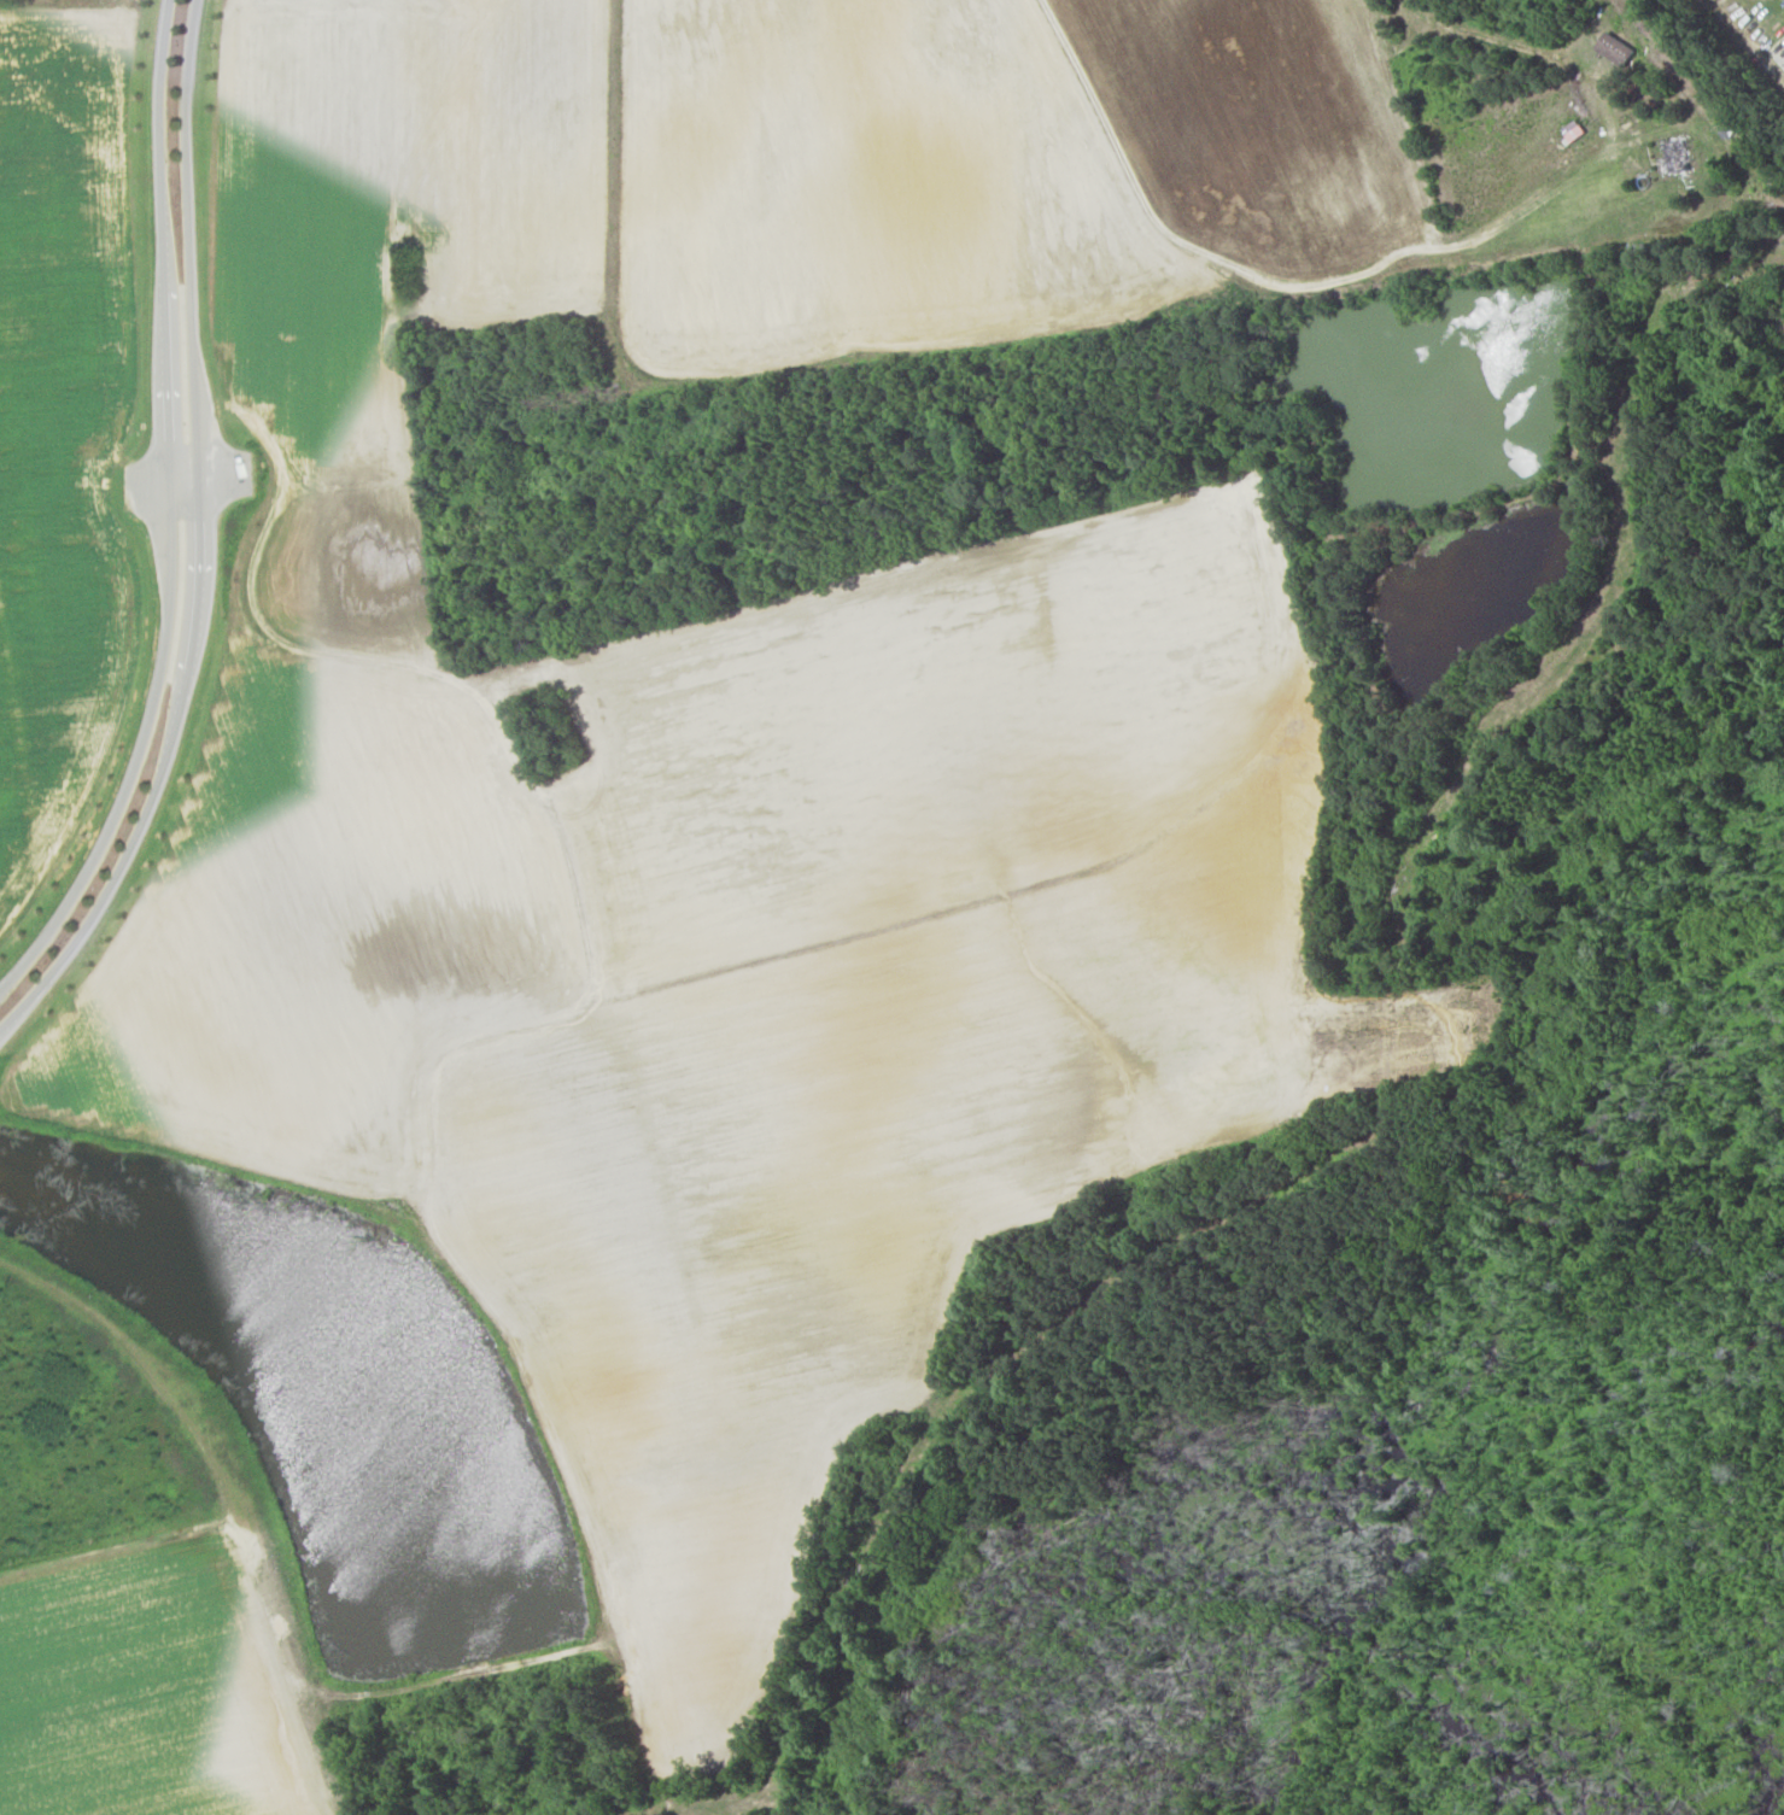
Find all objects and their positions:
road: (1730, 39)
building: (1673, 156)
road: (1661, 250)
wastewater plant: (1741, 299)
road: (856, 373)
road: (191, 476)
road: (171, 519)
road: (200, 543)
road: (733, 607)
road: (18, 662)
road: (128, 915)
road: (489, 1310)
road: (230, 1493)
road: (450, 1680)

